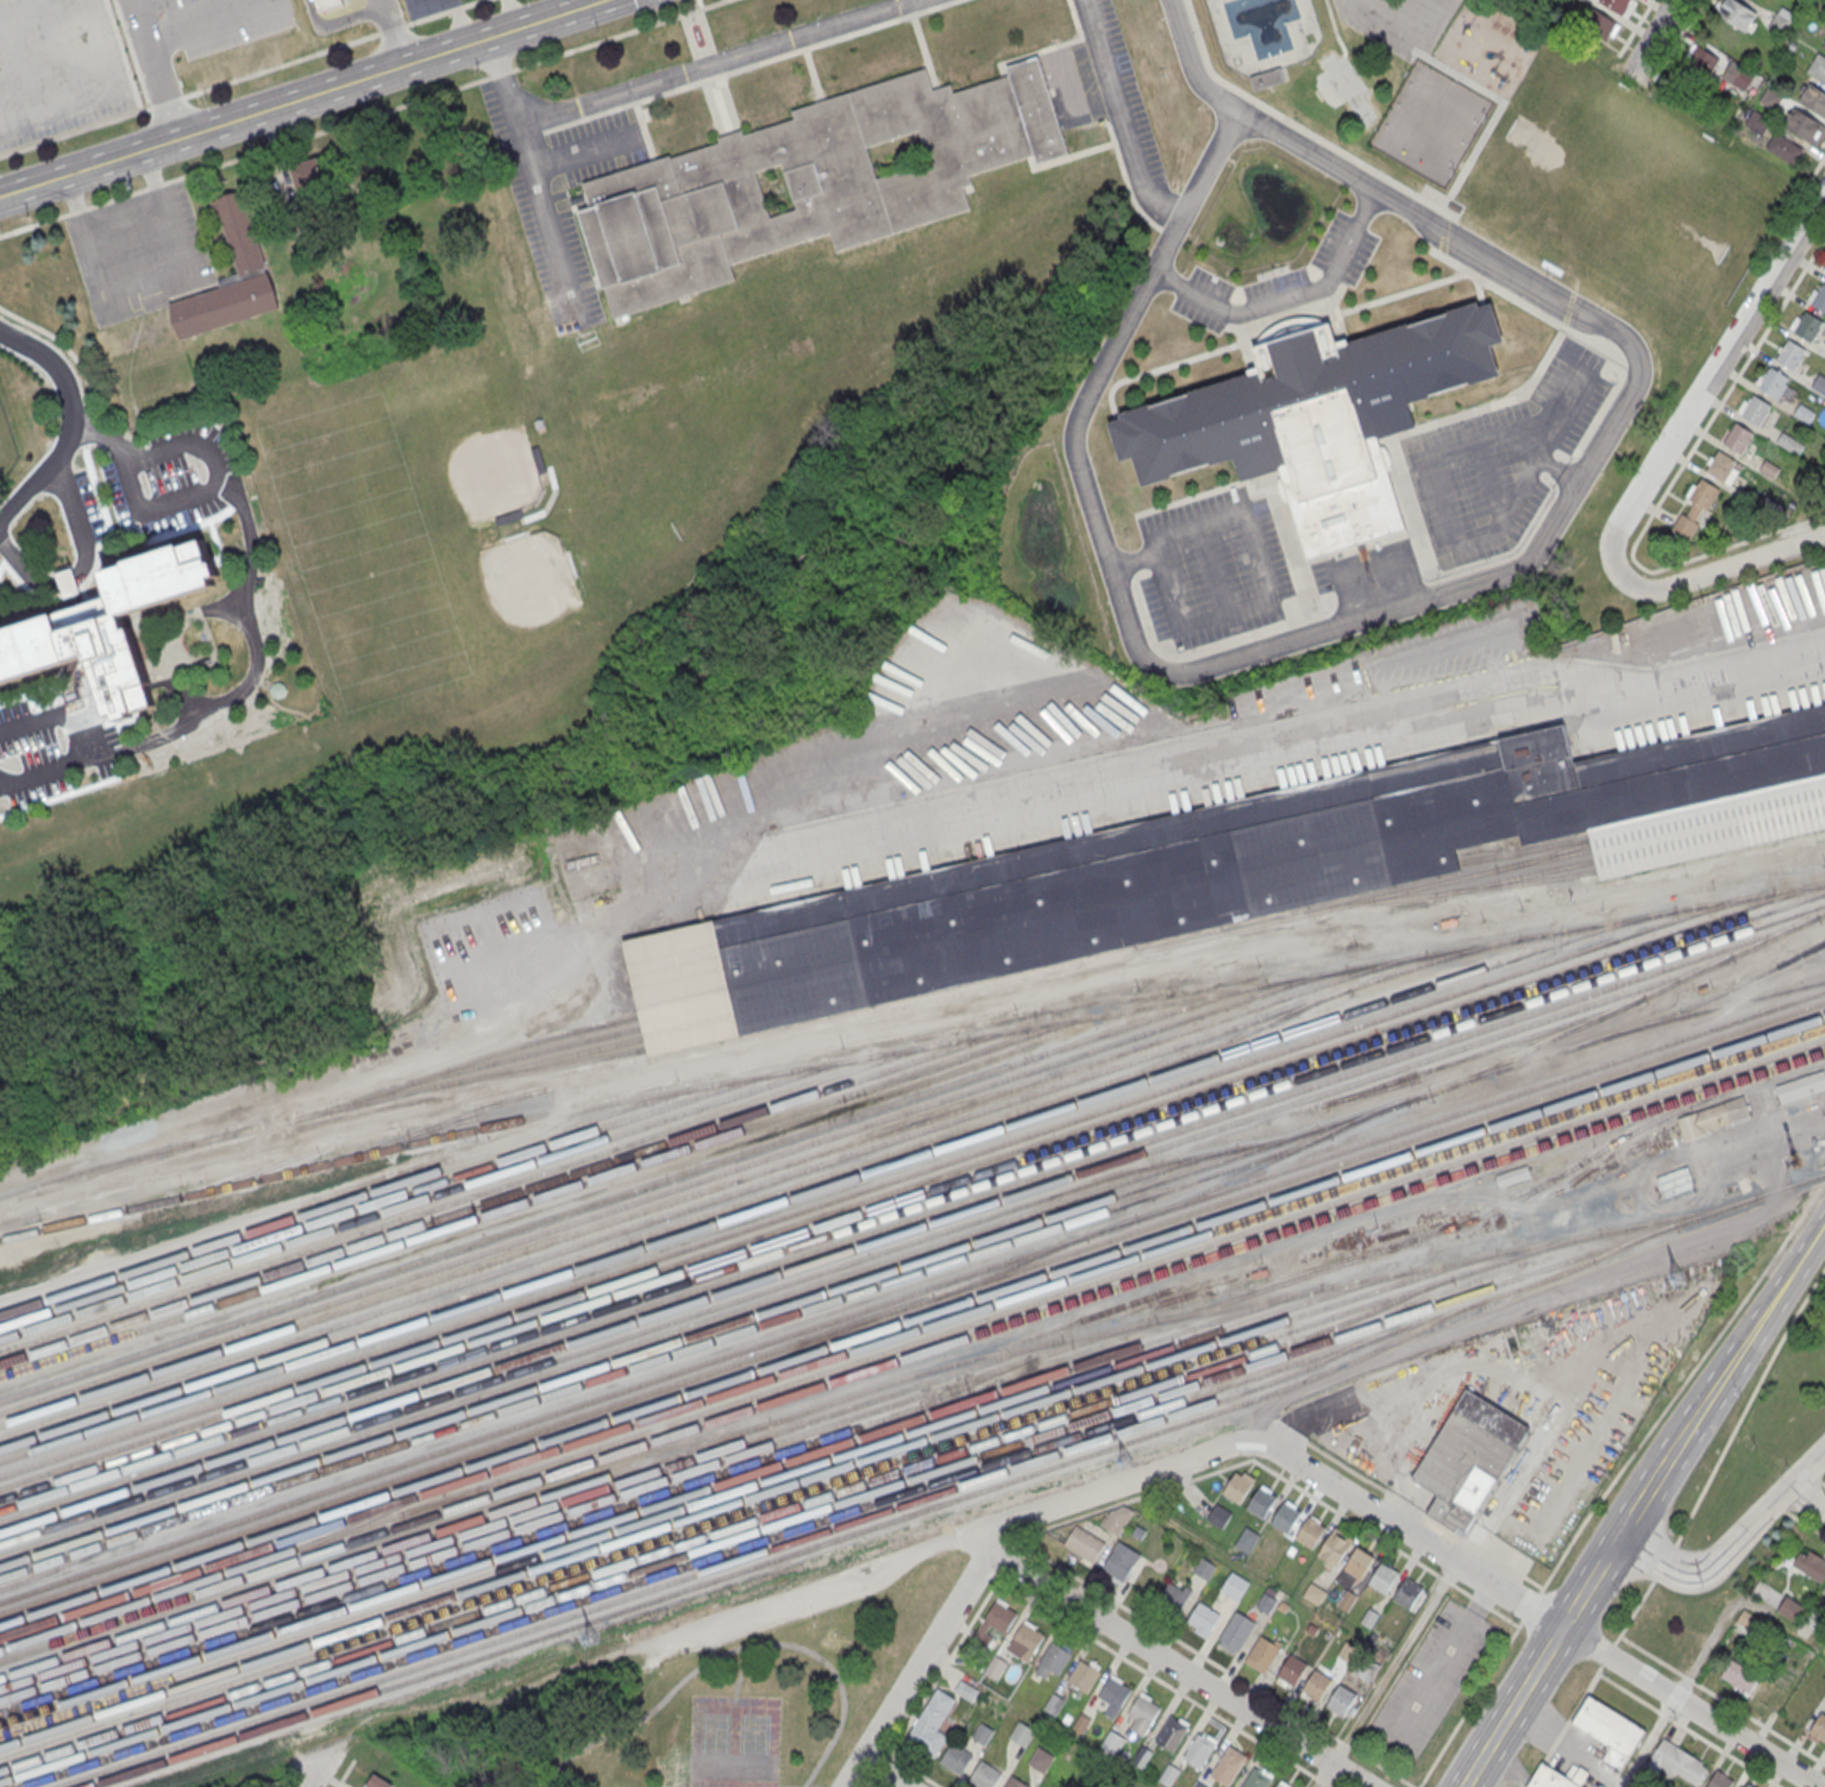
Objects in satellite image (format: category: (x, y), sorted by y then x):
building: (1, 0)
parking lot: (408, 1)
parking lot: (357, 2)
road: (470, 2)
road: (654, 2)
road: (701, 4)
building: (328, 5)
building: (1616, 5)
road: (24, 7)
road: (454, 7)
building: (1735, 12)
road: (393, 13)
road: (658, 13)
road: (512, 15)
road: (426, 17)
road: (694, 17)
road: (1331, 18)
road: (341, 21)
parking lot: (1399, 21)
road: (209, 23)
road: (462, 23)
building: (1598, 23)
building: (1779, 24)
road: (1407, 26)
road: (1635, 26)
road: (390, 27)
parking lot: (194, 32)
road: (617, 33)
road: (1655, 35)
road: (1677, 38)
building: (1824, 44)
road: (1054, 45)
road: (1342, 46)
road: (70, 49)
road: (923, 50)
road: (703, 51)
building: (1701, 58)
road: (24, 63)
road: (721, 63)
road: (748, 64)
building: (1817, 67)
parking lot: (57, 69)
road: (157, 71)
road: (501, 73)
road: (813, 73)
road: (246, 76)
building: (1267, 77)
building: (1743, 77)
road: (714, 83)
park: (1343, 87)
road: (100, 93)
building: (1771, 96)
building: (1814, 98)
road: (305, 101)
road: (1497, 111)
road: (1127, 115)
park: (1431, 121)
building: (1757, 121)
road: (1298, 125)
building: (1805, 125)
road: (645, 127)
road: (728, 128)
road: (532, 134)
road: (56, 137)
building: (1786, 148)
road: (245, 155)
park: (1557, 165)
road: (1818, 167)
building: (308, 178)
road: (534, 178)
building: (810, 182)
park: (1630, 192)
road: (1365, 202)
road: (1447, 214)
building: (239, 231)
road: (1444, 233)
parking lot: (1344, 247)
road: (1442, 252)
parking lot: (142, 253)
road: (1493, 257)
building: (1824, 271)
road: (1167, 280)
road: (1795, 281)
parking lot: (1277, 286)
road: (1286, 295)
parking lot: (1204, 297)
building: (1819, 297)
road: (1570, 300)
building: (224, 303)
road: (1529, 305)
road: (1287, 312)
road: (1337, 316)
building: (1807, 325)
road: (1291, 327)
road: (62, 343)
road: (1246, 344)
building: (1790, 353)
road: (1633, 360)
street lamp: (1617, 381)
building: (1774, 381)
road: (1706, 382)
building: (1819, 383)
building: (1756, 409)
road: (1599, 412)
building: (1804, 412)
building: (1318, 416)
road: (1448, 416)
road: (62, 418)
road: (88, 426)
building: (1739, 437)
building: (1789, 443)
park: (447, 450)
parking lot: (1500, 458)
road: (209, 460)
road: (1549, 464)
building: (1721, 465)
building: (1768, 468)
park: (537, 469)
road: (1430, 474)
road: (1271, 478)
parking lot: (155, 483)
road: (96, 488)
road: (70, 504)
building: (1695, 508)
road: (1199, 523)
road: (1642, 529)
road: (1350, 547)
road: (1260, 552)
road: (1491, 556)
road: (1134, 560)
parking lot: (0, 563)
road: (1111, 568)
road: (1211, 568)
parking lot: (1212, 568)
road: (1720, 569)
road: (1331, 571)
building: (68, 582)
road: (1165, 583)
park: (514, 604)
street lamp: (1316, 607)
road: (1343, 607)
road: (1225, 610)
road: (1514, 621)
building: (108, 625)
road: (1318, 627)
road: (256, 638)
street lamp: (1193, 650)
parking lot: (55, 735)
road: (88, 742)
road: (1327, 745)
railway: (1525, 849)
railway: (1544, 854)
building: (1225, 869)
railway: (1517, 876)
railway: (1456, 889)
road: (1448, 934)
railway: (1721, 990)
railway: (952, 992)
railway: (1620, 1004)
railway: (865, 1035)
road: (872, 1042)
railway: (909, 1046)
railway: (1482, 1049)
railway: (513, 1055)
railway: (466, 1060)
railway: (544, 1067)
building: (1801, 1086)
road: (464, 1095)
railway: (320, 1111)
building: (1714, 1117)
railway: (271, 1149)
railway: (284, 1159)
railway: (1268, 1159)
railway: (112, 1170)
building: (1517, 1174)
railway: (1805, 1180)
railway: (836, 1181)
railway: (885, 1181)
railway: (759, 1184)
railway: (911, 1184)
railway: (711, 1186)
railway: (633, 1189)
railway: (672, 1189)
railway: (553, 1191)
railway: (474, 1192)
railway: (514, 1192)
railway: (434, 1195)
railway: (395, 1196)
railway: (912, 1196)
railway: (355, 1197)
railway: (911, 1206)
railway: (908, 1218)
railway: (1472, 1218)
railway: (677, 1223)
railway: (866, 1243)
railway: (909, 1264)
railway: (1010, 1265)
power tower: (1677, 1278)
railway: (1338, 1284)
railway: (911, 1292)
railway: (911, 1303)
road: (1761, 1316)
railway: (911, 1318)
railway: (657, 1325)
railway: (911, 1330)
railway: (912, 1342)
railway: (616, 1349)
railway: (791, 1350)
railway: (911, 1354)
railway: (665, 1355)
road: (1682, 1382)
road: (1748, 1403)
railway: (572, 1436)
building: (1469, 1456)
power tower: (1125, 1461)
road: (1236, 1463)
road: (1369, 1480)
road: (1512, 1481)
railway: (892, 1484)
road: (1823, 1484)
road: (1111, 1485)
building: (1237, 1487)
railway: (798, 1492)
railway: (539, 1497)
railway: (744, 1499)
railway: (704, 1500)
building: (1261, 1501)
road: (1805, 1501)
railway: (659, 1504)
railway: (573, 1509)
railway: (848, 1510)
railway: (531, 1512)
railway: (370, 1516)
building: (1219, 1516)
building: (1285, 1516)
building: (1116, 1519)
road: (1805, 1523)
railway: (727, 1526)
building: (1310, 1531)
road: (1008, 1532)
railway: (520, 1538)
building: (1247, 1538)
road: (1473, 1543)
building: (1084, 1544)
road: (1731, 1544)
building: (1336, 1545)
railway: (789, 1553)
railway: (69, 1560)
road: (1011, 1561)
building: (1359, 1561)
road: (1664, 1561)
railway: (728, 1562)
building: (1120, 1562)
building: (1810, 1566)
road: (1512, 1567)
building: (1203, 1568)
road: (985, 1569)
building: (1382, 1576)
road: (1444, 1579)
building: (1234, 1585)
road: (1460, 1588)
building: (1824, 1591)
building: (1313, 1592)
building: (1407, 1592)
railway: (165, 1597)
building: (1174, 1597)
road: (1579, 1599)
road: (1480, 1601)
road: (1530, 1605)
building: (1790, 1610)
road: (1534, 1611)
road: (1633, 1611)
building: (1203, 1617)
road: (1505, 1617)
building: (997, 1619)
building: (1746, 1620)
building: (1237, 1629)
road: (1177, 1637)
power tower: (592, 1638)
building: (1027, 1643)
building: (1262, 1654)
road: (1607, 1654)
building: (1054, 1659)
road: (946, 1663)
road: (1438, 1664)
road: (915, 1668)
building: (995, 1668)
road: (1180, 1668)
building: (1291, 1669)
road: (739, 1673)
road: (1154, 1674)
road: (1384, 1674)
building: (1084, 1675)
parking lot: (1431, 1678)
building: (1739, 1678)
building: (1316, 1683)
road: (839, 1686)
building: (966, 1691)
building: (1114, 1694)
building: (1341, 1699)
road: (1721, 1699)
building: (1054, 1703)
road: (1469, 1703)
park: (729, 1706)
building: (1142, 1713)
road: (645, 1718)
building: (930, 1725)
road: (1563, 1725)
road: (1688, 1729)
building: (1818, 1729)
building: (1610, 1730)
building: (1171, 1732)
building: (1022, 1733)
building: (1112, 1739)
road: (1342, 1741)
park: (733, 1742)
road: (1647, 1743)
building: (1199, 1750)
building: (957, 1756)
building: (1041, 1760)
building: (1679, 1762)
road: (319, 1764)
building: (1228, 1764)
road: (1380, 1766)
road: (880, 1768)
road: (917, 1769)
road: (344, 1773)
road: (882, 1773)
building: (985, 1774)
road: (290, 1777)
building: (1256, 1779)
road: (1322, 1779)
building: (1553, 1779)
building: (1719, 1780)
building: (376, 1781)
building: (1015, 1782)
road: (871, 1783)
building: (1279, 1785)
road: (1332, 1785)
building: (1746, 1785)
road: (871, 1786)

